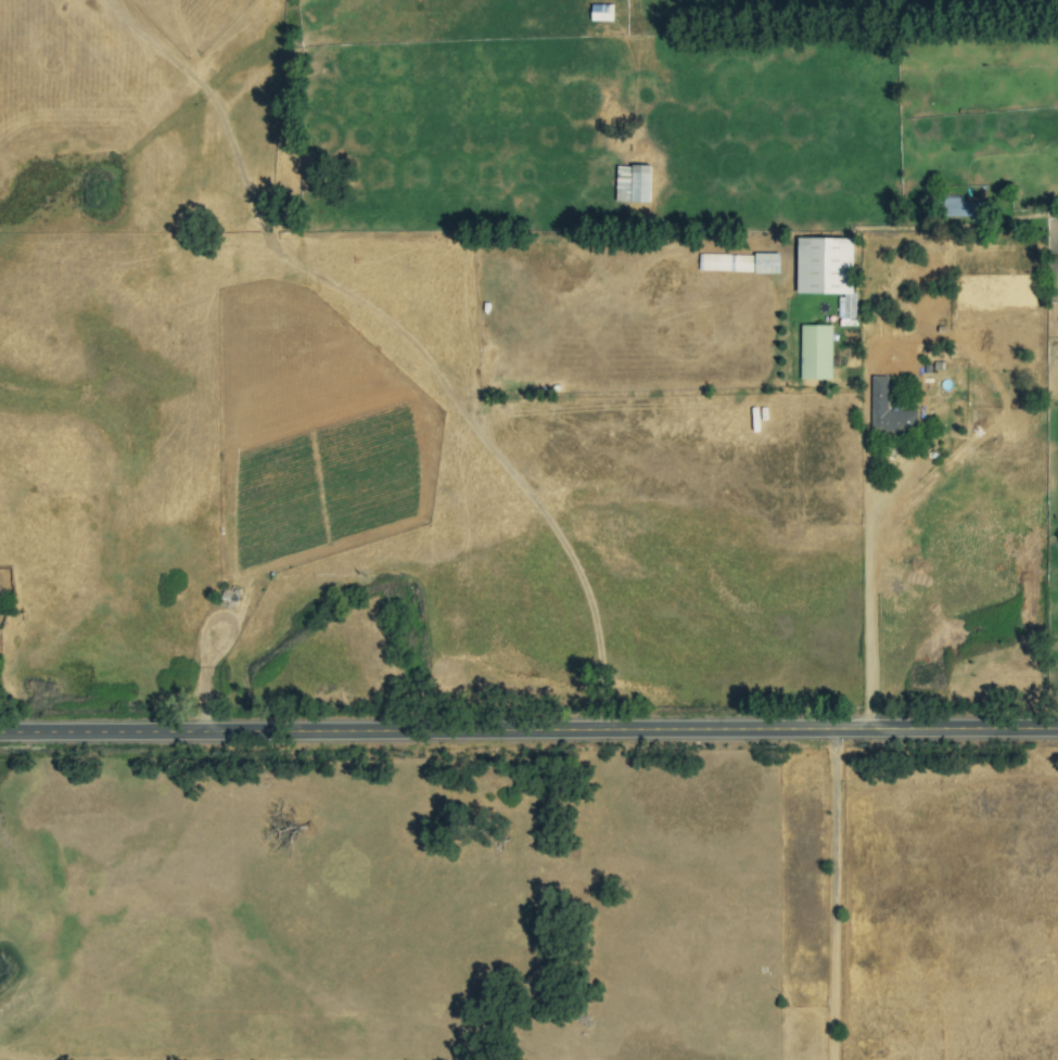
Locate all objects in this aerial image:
building: (601, 12)
building: (633, 183)
building: (959, 207)
building: (725, 261)
building: (766, 263)
building: (827, 271)
building: (815, 353)
building: (879, 392)
building: (228, 598)
road: (864, 615)
road: (528, 729)
road: (836, 834)
road: (833, 999)

